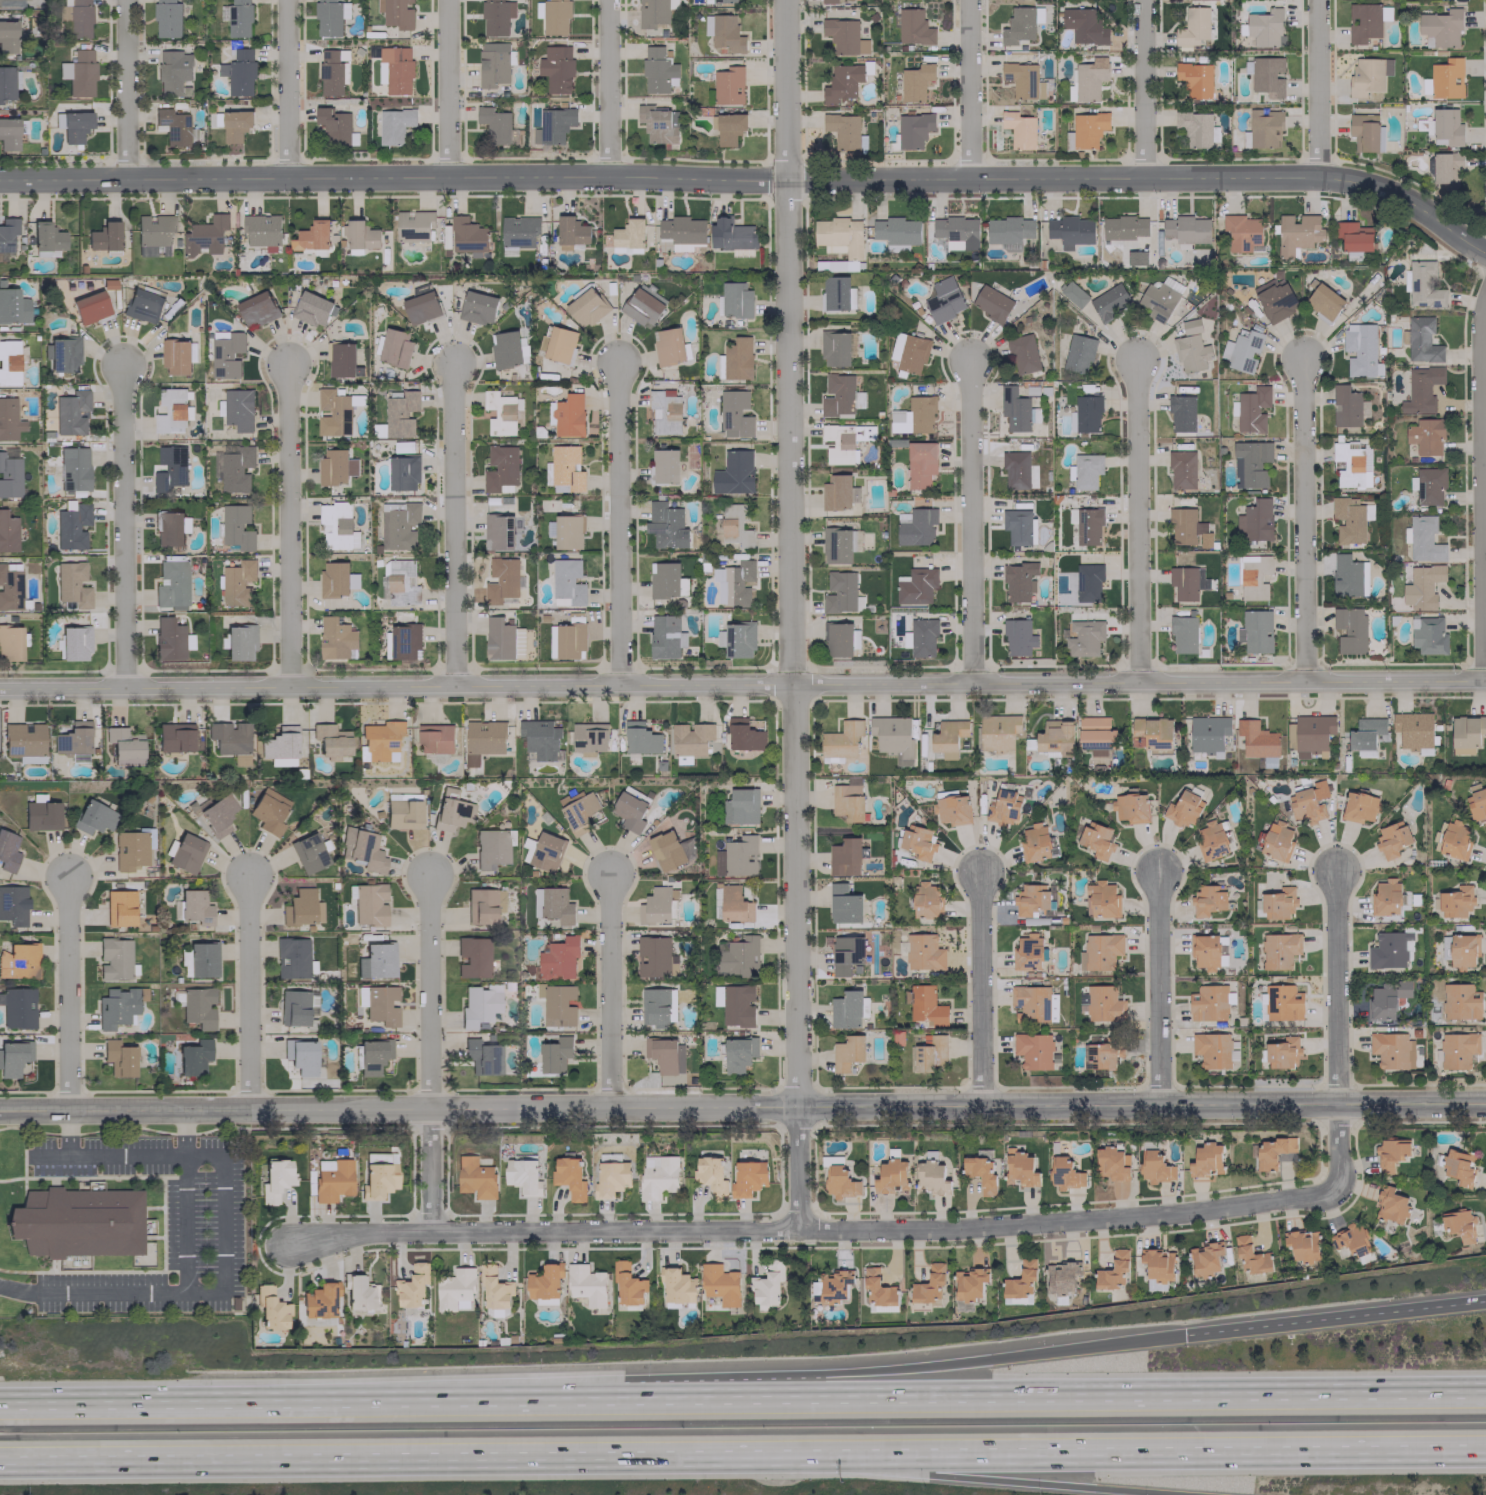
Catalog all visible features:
building: (723, 1)
building: (829, 1)
building: (5, 2)
building: (396, 13)
building: (654, 13)
building: (496, 16)
building: (554, 16)
building: (77, 17)
building: (330, 17)
building: (167, 18)
building: (239, 18)
building: (1363, 22)
building: (1020, 24)
building: (1084, 25)
building: (913, 27)
building: (1193, 27)
building: (1265, 27)
building: (1441, 27)
building: (724, 32)
building: (7, 36)
building: (844, 36)
building: (492, 64)
building: (556, 68)
building: (63, 69)
building: (397, 69)
building: (173, 70)
building: (657, 70)
building: (81, 72)
building: (238, 72)
building: (381, 72)
building: (332, 73)
building: (1367, 74)
building: (1266, 75)
building: (1446, 77)
building: (1195, 79)
building: (1023, 80)
building: (1087, 80)
building: (915, 81)
building: (842, 82)
building: (6, 83)
building: (728, 85)
road: (285, 88)
road: (444, 88)
road: (607, 88)
road: (1140, 88)
road: (1315, 88)
road: (125, 89)
road: (966, 89)
building: (394, 124)
building: (554, 124)
building: (656, 124)
building: (235, 125)
building: (334, 125)
building: (496, 125)
building: (75, 126)
building: (1446, 126)
building: (176, 127)
building: (729, 128)
building: (1195, 128)
building: (1264, 128)
building: (913, 129)
building: (1019, 129)
building: (1087, 129)
building: (842, 130)
building: (1363, 131)
building: (8, 134)
building: (1445, 167)
road: (752, 178)
building: (413, 225)
building: (1122, 227)
building: (1008, 229)
building: (261, 230)
building: (896, 230)
building: (1185, 230)
building: (518, 231)
building: (571, 231)
building: (956, 231)
building: (1070, 231)
building: (155, 232)
building: (681, 232)
building: (628, 233)
building: (1242, 233)
building: (1297, 233)
building: (731, 234)
building: (839, 234)
building: (7, 235)
building: (360, 235)
building: (104, 236)
building: (205, 236)
building: (312, 236)
building: (468, 236)
building: (1353, 236)
building: (47, 239)
building: (1423, 285)
building: (834, 292)
building: (1073, 294)
building: (1274, 298)
building: (736, 299)
building: (943, 300)
building: (1157, 300)
building: (992, 301)
building: (1109, 301)
building: (1322, 301)
building: (12, 305)
building: (143, 305)
building: (90, 307)
building: (421, 307)
building: (477, 307)
building: (586, 307)
building: (641, 307)
building: (311, 308)
building: (257, 309)
building: (1421, 340)
building: (558, 344)
building: (668, 345)
building: (895, 345)
building: (395, 348)
building: (834, 348)
building: (1191, 348)
building: (505, 349)
building: (1359, 349)
building: (1242, 351)
building: (1078, 352)
building: (912, 353)
building: (64, 354)
building: (1022, 354)
building: (226, 355)
building: (175, 356)
building: (342, 359)
building: (736, 360)
building: (10, 361)
building: (1420, 389)
building: (839, 396)
building: (1347, 406)
building: (1014, 408)
building: (238, 409)
building: (1252, 409)
building: (170, 411)
building: (664, 411)
building: (71, 412)
building: (333, 412)
building: (735, 412)
building: (400, 413)
building: (1087, 413)
building: (1181, 413)
building: (920, 414)
building: (568, 415)
building: (9, 419)
building: (1425, 435)
building: (839, 443)
building: (920, 464)
building: (1352, 464)
building: (665, 465)
building: (1253, 465)
building: (235, 467)
building: (335, 467)
building: (500, 467)
building: (74, 468)
building: (170, 468)
building: (566, 469)
building: (1015, 469)
building: (1181, 469)
building: (1086, 470)
building: (403, 472)
building: (734, 472)
building: (9, 476)
building: (1429, 485)
road: (1479, 487)
building: (836, 492)
road: (1135, 518)
road: (1301, 519)
building: (1349, 519)
building: (1255, 520)
road: (968, 521)
road: (617, 522)
road: (452, 524)
building: (666, 525)
building: (735, 525)
building: (72, 526)
road: (121, 526)
building: (236, 526)
building: (400, 526)
building: (1018, 526)
building: (1088, 526)
road: (288, 527)
building: (917, 527)
building: (170, 528)
building: (1187, 528)
building: (568, 531)
building: (7, 532)
building: (498, 532)
building: (1424, 539)
building: (837, 545)
building: (1348, 575)
building: (1253, 576)
building: (334, 579)
building: (500, 579)
building: (664, 579)
building: (567, 581)
building: (1019, 581)
building: (1088, 581)
building: (401, 582)
building: (1184, 582)
building: (238, 583)
building: (737, 583)
building: (72, 584)
building: (172, 584)
building: (916, 585)
building: (10, 586)
building: (1421, 586)
building: (839, 591)
road: (788, 614)
building: (1350, 629)
building: (1255, 631)
building: (1183, 634)
building: (1427, 635)
building: (922, 636)
building: (665, 637)
building: (1018, 637)
building: (1084, 637)
building: (168, 638)
building: (336, 638)
building: (503, 639)
building: (737, 639)
building: (838, 639)
building: (566, 640)
building: (239, 641)
building: (402, 641)
building: (10, 642)
building: (74, 642)
road: (742, 684)
building: (1413, 730)
building: (1467, 730)
building: (998, 731)
building: (1153, 733)
building: (1365, 733)
building: (1207, 734)
building: (744, 735)
building: (1312, 735)
building: (1289, 736)
building: (175, 737)
building: (893, 737)
building: (948, 737)
building: (1055, 737)
building: (434, 738)
building: (540, 738)
building: (588, 738)
building: (640, 738)
building: (690, 738)
building: (381, 739)
building: (483, 739)
building: (841, 739)
building: (1256, 739)
building: (74, 741)
building: (330, 741)
building: (24, 742)
building: (124, 745)
building: (280, 746)
building: (847, 799)
building: (1308, 802)
building: (1476, 802)
building: (741, 806)
building: (1003, 807)
building: (1130, 807)
building: (1359, 807)
building: (1183, 808)
building: (630, 809)
building: (451, 810)
building: (578, 810)
building: (951, 810)
building: (268, 811)
building: (402, 811)
building: (216, 814)
building: (41, 815)
building: (93, 817)
building: (1096, 839)
building: (1391, 839)
building: (1211, 840)
building: (1277, 840)
building: (1454, 840)
building: (918, 841)
building: (1034, 843)
building: (492, 847)
building: (362, 849)
building: (129, 850)
building: (8, 851)
building: (546, 851)
building: (308, 852)
building: (186, 853)
building: (846, 856)
building: (736, 857)
building: (1385, 897)
building: (1033, 899)
building: (1102, 899)
building: (1207, 899)
building: (925, 900)
building: (1455, 901)
building: (1278, 902)
building: (369, 904)
building: (552, 904)
building: (734, 904)
building: (844, 904)
building: (13, 905)
building: (483, 905)
building: (658, 906)
building: (195, 907)
building: (120, 908)
building: (301, 908)
building: (176, 909)
building: (1388, 949)
building: (1459, 949)
building: (1279, 950)
building: (1100, 951)
building: (1204, 951)
building: (923, 952)
building: (1027, 953)
building: (845, 954)
building: (654, 956)
building: (736, 956)
building: (291, 957)
building: (472, 957)
building: (114, 959)
building: (557, 959)
building: (199, 960)
building: (376, 960)
building: (19, 961)
road: (1158, 989)
road: (610, 990)
road: (249, 991)
road: (980, 991)
road: (67, 994)
building: (717, 995)
building: (1387, 999)
building: (1460, 1001)
building: (1282, 1002)
building: (1033, 1003)
building: (1103, 1003)
building: (1207, 1003)
building: (381, 1004)
building: (557, 1004)
building: (479, 1005)
building: (737, 1005)
building: (926, 1005)
building: (117, 1006)
building: (657, 1006)
building: (17, 1007)
building: (198, 1007)
building: (295, 1007)
building: (847, 1009)
road: (1336, 1030)
building: (1457, 1049)
building: (1033, 1050)
building: (1213, 1050)
building: (1391, 1050)
building: (847, 1052)
building: (929, 1052)
building: (1282, 1052)
road: (428, 1053)
building: (738, 1053)
building: (1102, 1053)
building: (555, 1054)
building: (665, 1054)
building: (372, 1055)
building: (300, 1056)
building: (479, 1056)
building: (13, 1057)
building: (194, 1057)
building: (119, 1058)
road: (742, 1106)
road: (418, 1120)
road: (269, 1128)
road: (183, 1132)
road: (67, 1133)
road: (23, 1147)
building: (1273, 1151)
building: (1390, 1153)
road: (108, 1156)
building: (1206, 1159)
building: (1111, 1163)
building: (1457, 1165)
building: (1154, 1167)
building: (1019, 1168)
building: (980, 1173)
building: (1063, 1173)
building: (522, 1175)
building: (710, 1175)
building: (657, 1176)
building: (891, 1176)
building: (475, 1177)
building: (569, 1177)
building: (610, 1178)
building: (747, 1178)
building: (931, 1178)
building: (275, 1179)
building: (332, 1179)
building: (378, 1180)
building: (840, 1182)
building: (1390, 1204)
building: (77, 1222)
road: (163, 1223)
parking lot: (203, 1224)
building: (1458, 1224)
road: (811, 1228)
building: (1349, 1239)
building: (1302, 1244)
building: (1250, 1256)
building: (1206, 1258)
building: (1157, 1267)
building: (1112, 1271)
building: (1061, 1276)
building: (1019, 1280)
building: (544, 1282)
building: (969, 1283)
building: (586, 1284)
building: (627, 1284)
building: (719, 1284)
building: (676, 1285)
building: (834, 1285)
building: (412, 1286)
building: (494, 1287)
building: (877, 1288)
building: (927, 1288)
road: (17, 1290)
building: (455, 1290)
road: (222, 1292)
building: (360, 1292)
road: (110, 1293)
building: (320, 1300)
building: (270, 1308)
road: (1332, 1318)
traffic signals: (1179, 1337)
road: (849, 1370)
road: (743, 1395)
road: (1076, 1452)
road: (333, 1459)
road: (916, 1474)

